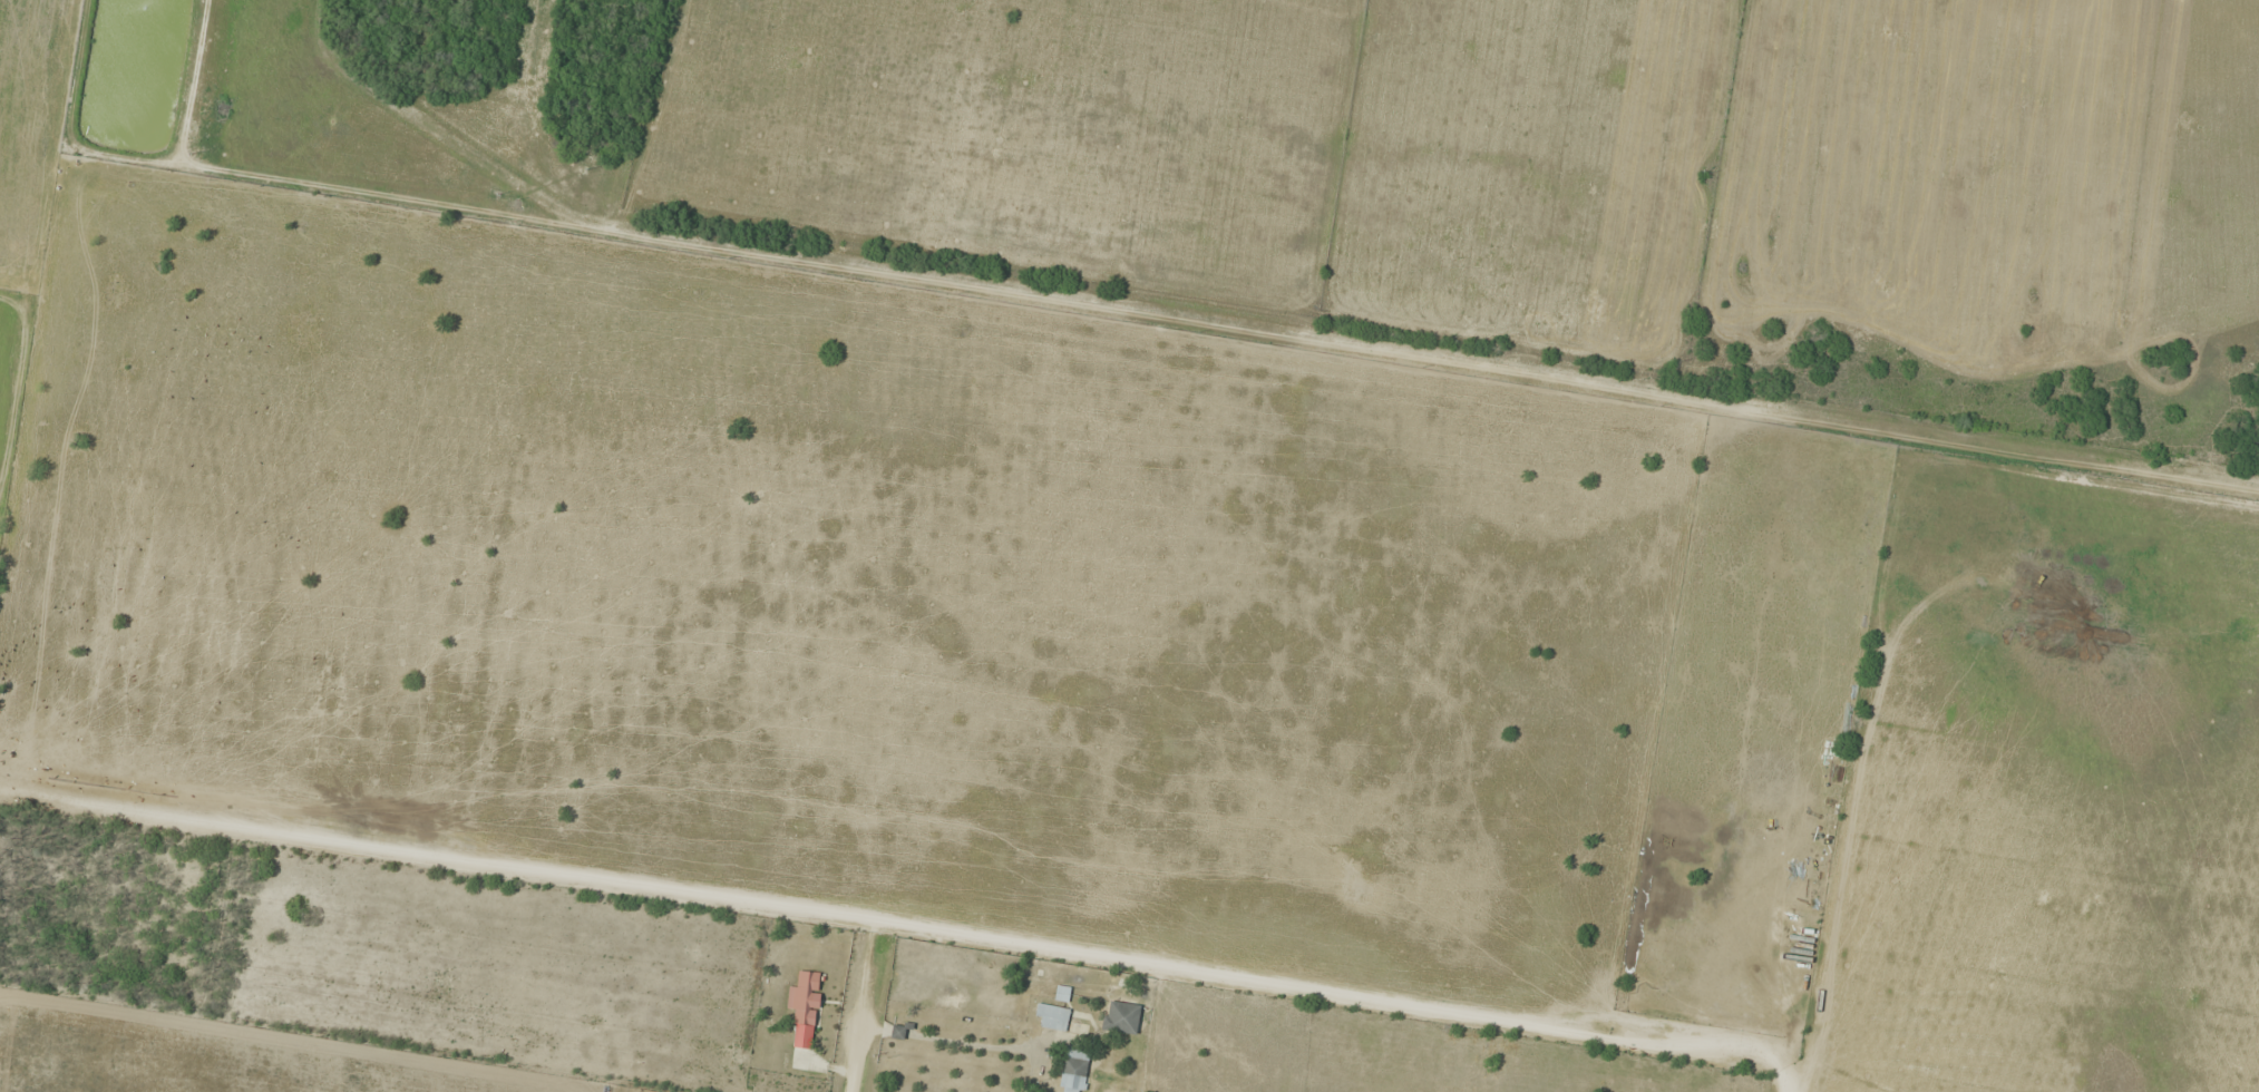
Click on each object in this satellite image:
road: (288, 46)
wastewater plant: (136, 69)
airport: (1532, 162)
road: (1240, 329)
road: (861, 922)
road: (864, 974)
building: (805, 1006)
building: (1052, 1016)
building: (1121, 1016)
road: (857, 1059)
building: (1074, 1071)

